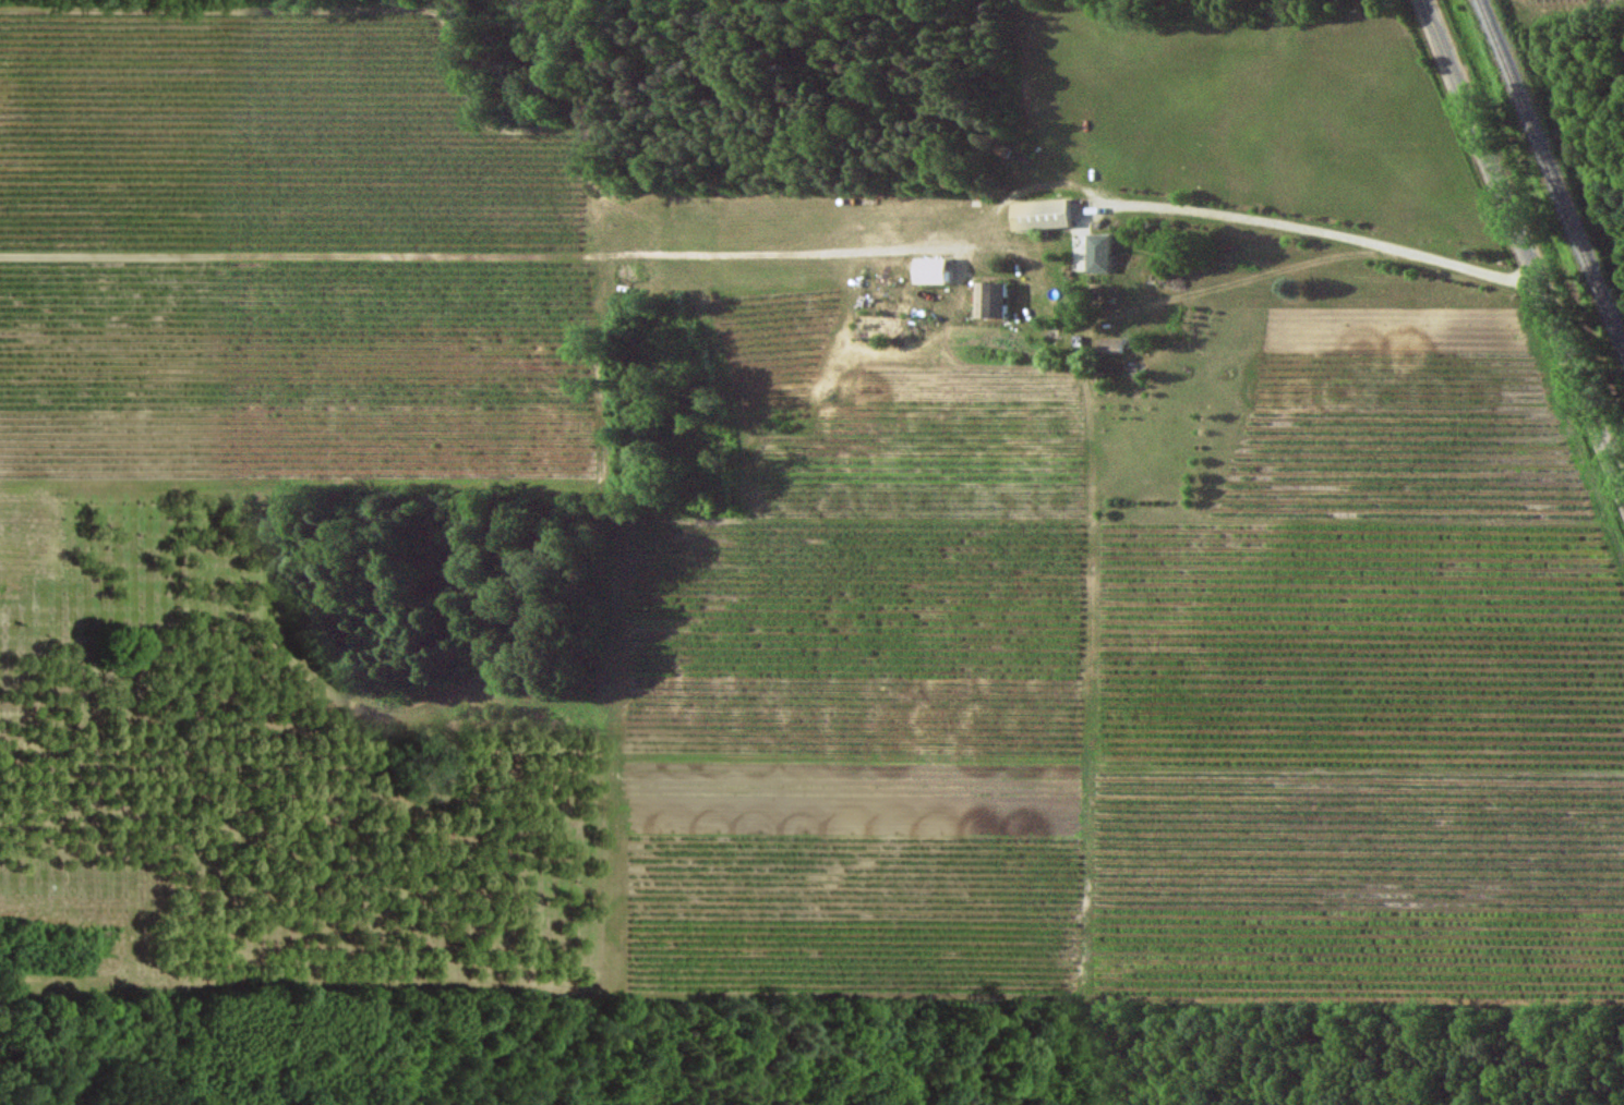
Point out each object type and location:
railway: (1553, 173)
building: (1050, 214)
road: (1296, 228)
road: (1524, 246)
building: (1105, 253)
building: (941, 270)
building: (998, 300)
building: (1115, 345)

